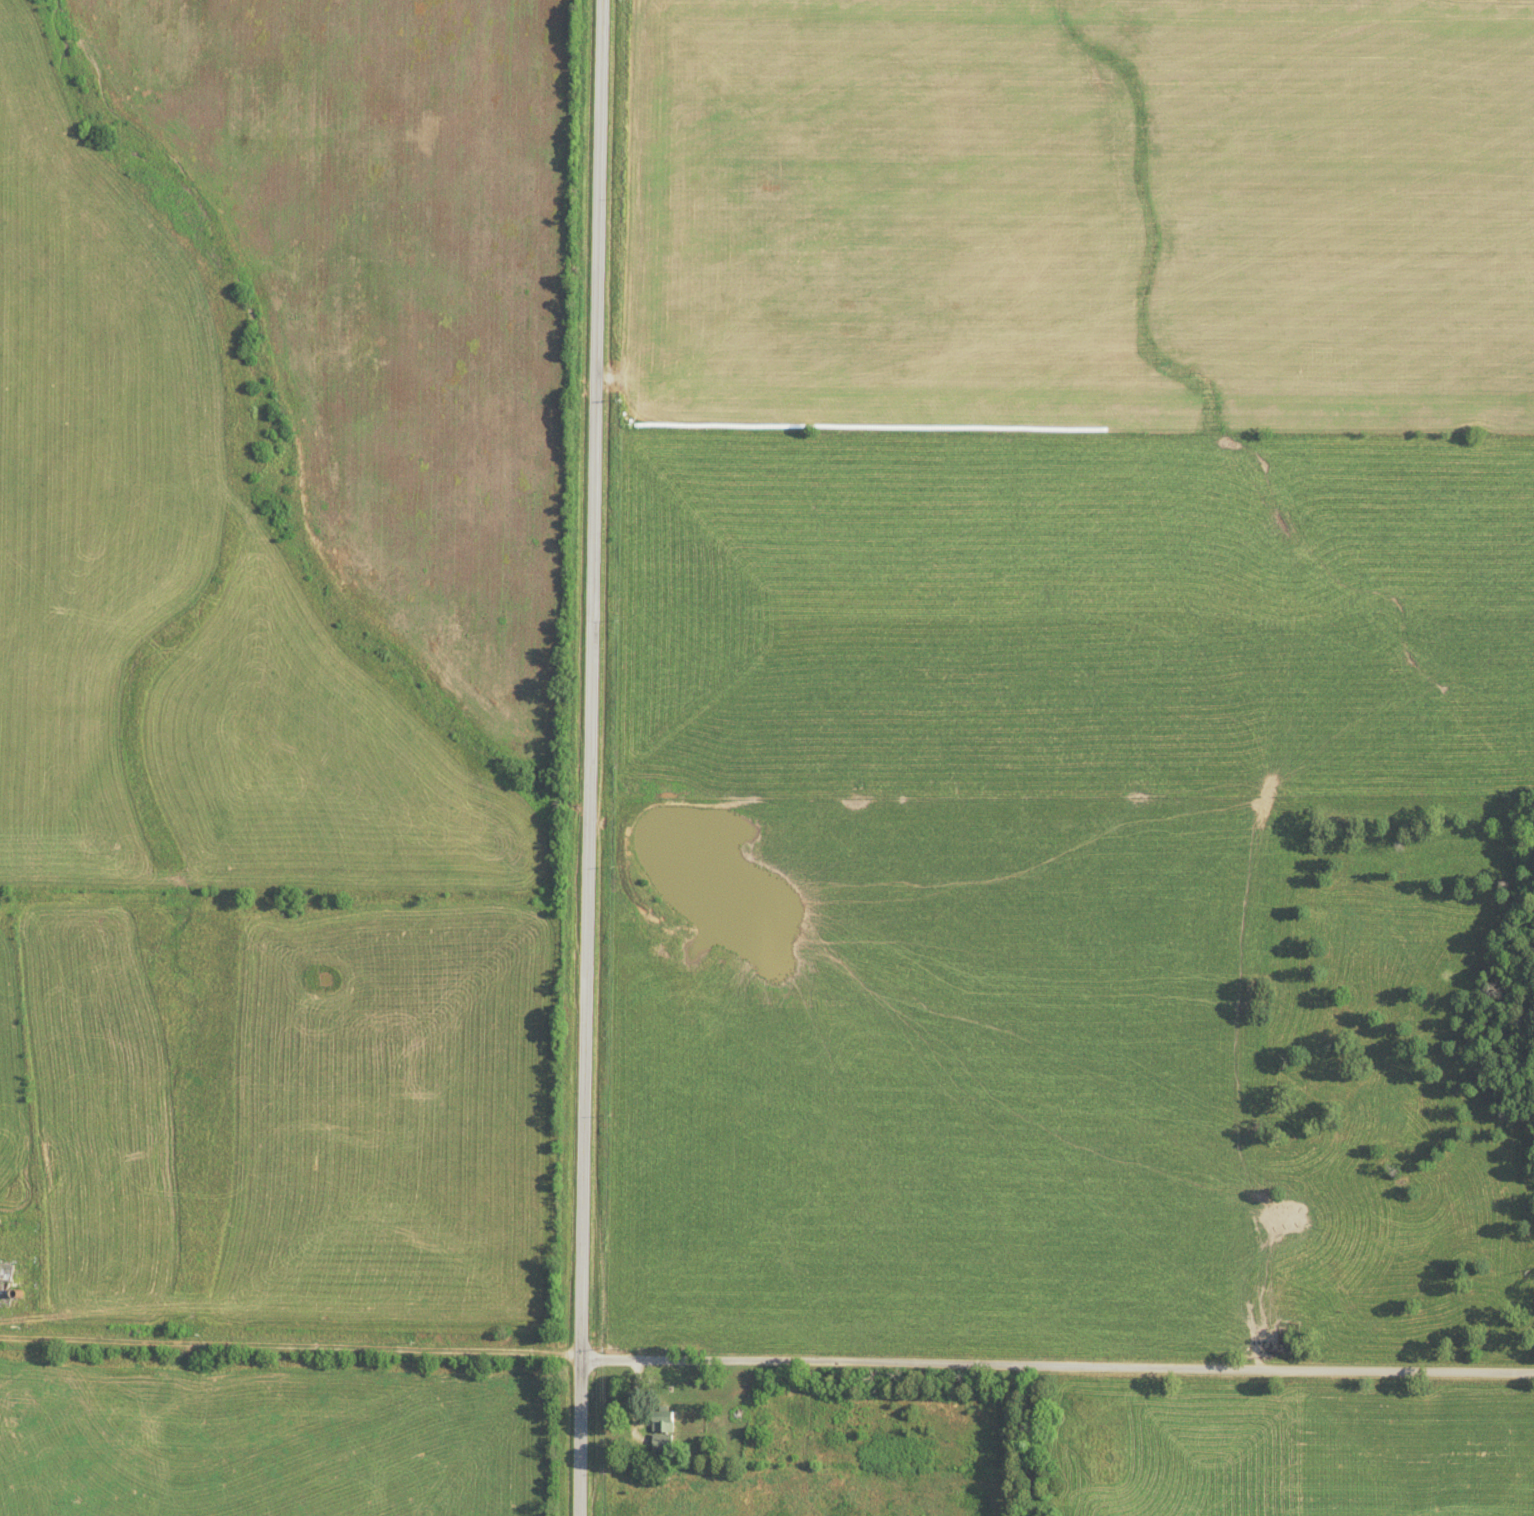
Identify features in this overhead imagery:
road: (594, 758)
road: (292, 1345)
road: (1059, 1364)
building: (660, 1429)

